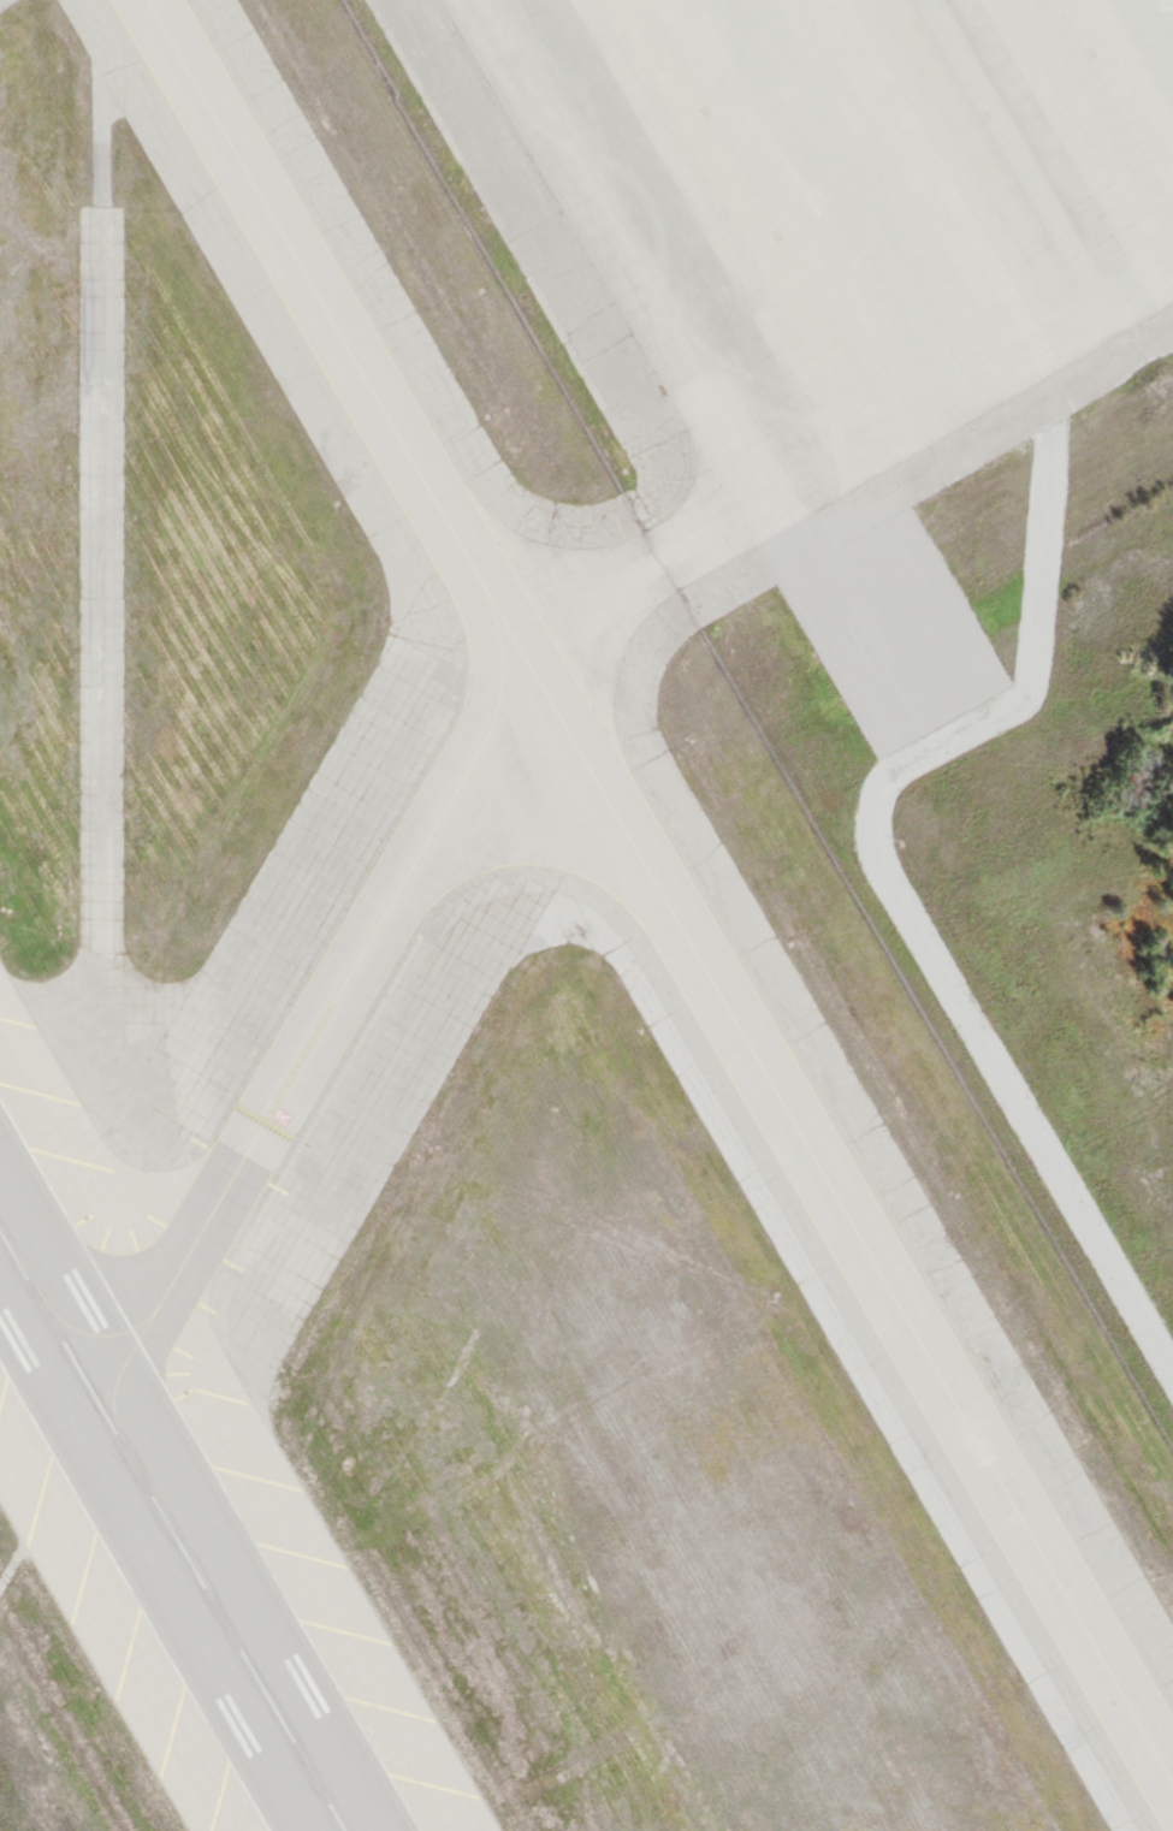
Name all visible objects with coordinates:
airport taxiway: (660, 895)
airport apron: (519, 903)
airport: (586, 916)
airport taxiway: (304, 1024)
airport runway: (168, 1537)

